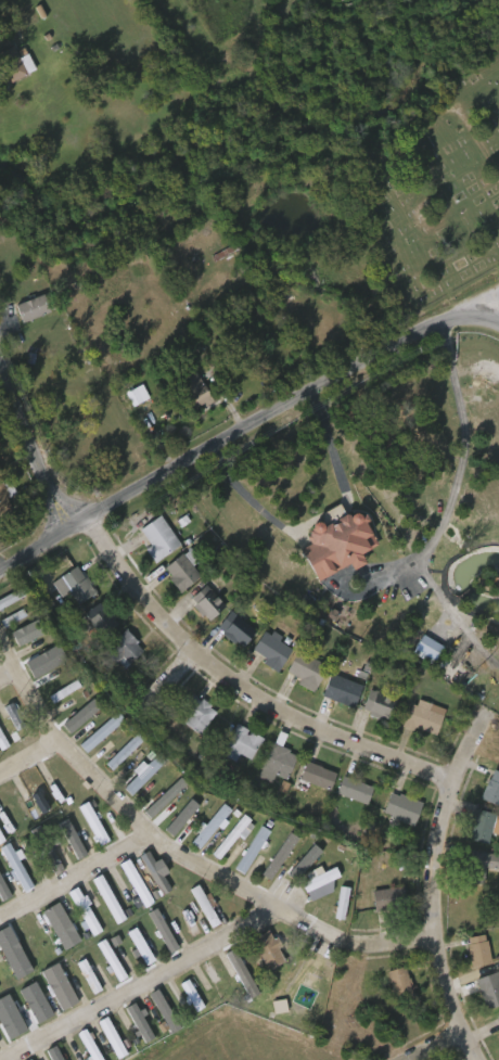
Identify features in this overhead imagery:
building: (13, 62)
building: (31, 305)
road: (492, 319)
building: (9, 325)
building: (194, 389)
building: (138, 393)
road: (238, 427)
road: (325, 446)
road: (28, 450)
road: (446, 484)
building: (4, 496)
road: (251, 498)
road: (324, 505)
building: (157, 535)
building: (338, 545)
building: (179, 570)
building: (75, 582)
building: (12, 596)
building: (204, 600)
building: (12, 616)
building: (98, 617)
building: (235, 628)
building: (28, 633)
building: (427, 649)
building: (117, 650)
building: (268, 650)
building: (46, 661)
building: (300, 668)
road: (8, 674)
road: (164, 676)
road: (239, 684)
building: (338, 689)
building: (64, 691)
building: (404, 711)
building: (194, 713)
building: (12, 715)
building: (80, 716)
building: (99, 731)
building: (3, 739)
building: (239, 743)
building: (120, 751)
road: (29, 758)
building: (274, 762)
building: (143, 772)
building: (314, 775)
building: (489, 788)
building: (350, 789)
building: (165, 799)
building: (399, 807)
building: (181, 818)
road: (138, 820)
building: (90, 821)
building: (208, 825)
building: (478, 826)
building: (228, 836)
building: (72, 839)
building: (44, 847)
building: (250, 848)
building: (280, 856)
building: (305, 863)
building: (477, 864)
building: (15, 866)
building: (151, 870)
road: (76, 877)
building: (320, 880)
building: (136, 884)
road: (436, 885)
building: (385, 897)
building: (108, 899)
building: (340, 902)
building: (201, 905)
building: (84, 909)
building: (2, 921)
building: (56, 924)
building: (158, 929)
road: (396, 944)
building: (140, 946)
building: (266, 948)
building: (476, 948)
building: (13, 954)
building: (112, 960)
building: (241, 970)
building: (398, 982)
building: (56, 984)
road: (150, 984)
building: (0, 986)
building: (488, 987)
building: (190, 994)
building: (37, 1002)
building: (163, 1008)
building: (497, 1017)
building: (136, 1019)
building: (110, 1036)
building: (498, 1036)
road: (430, 1044)
building: (89, 1045)
building: (54, 1053)
building: (34, 1059)

